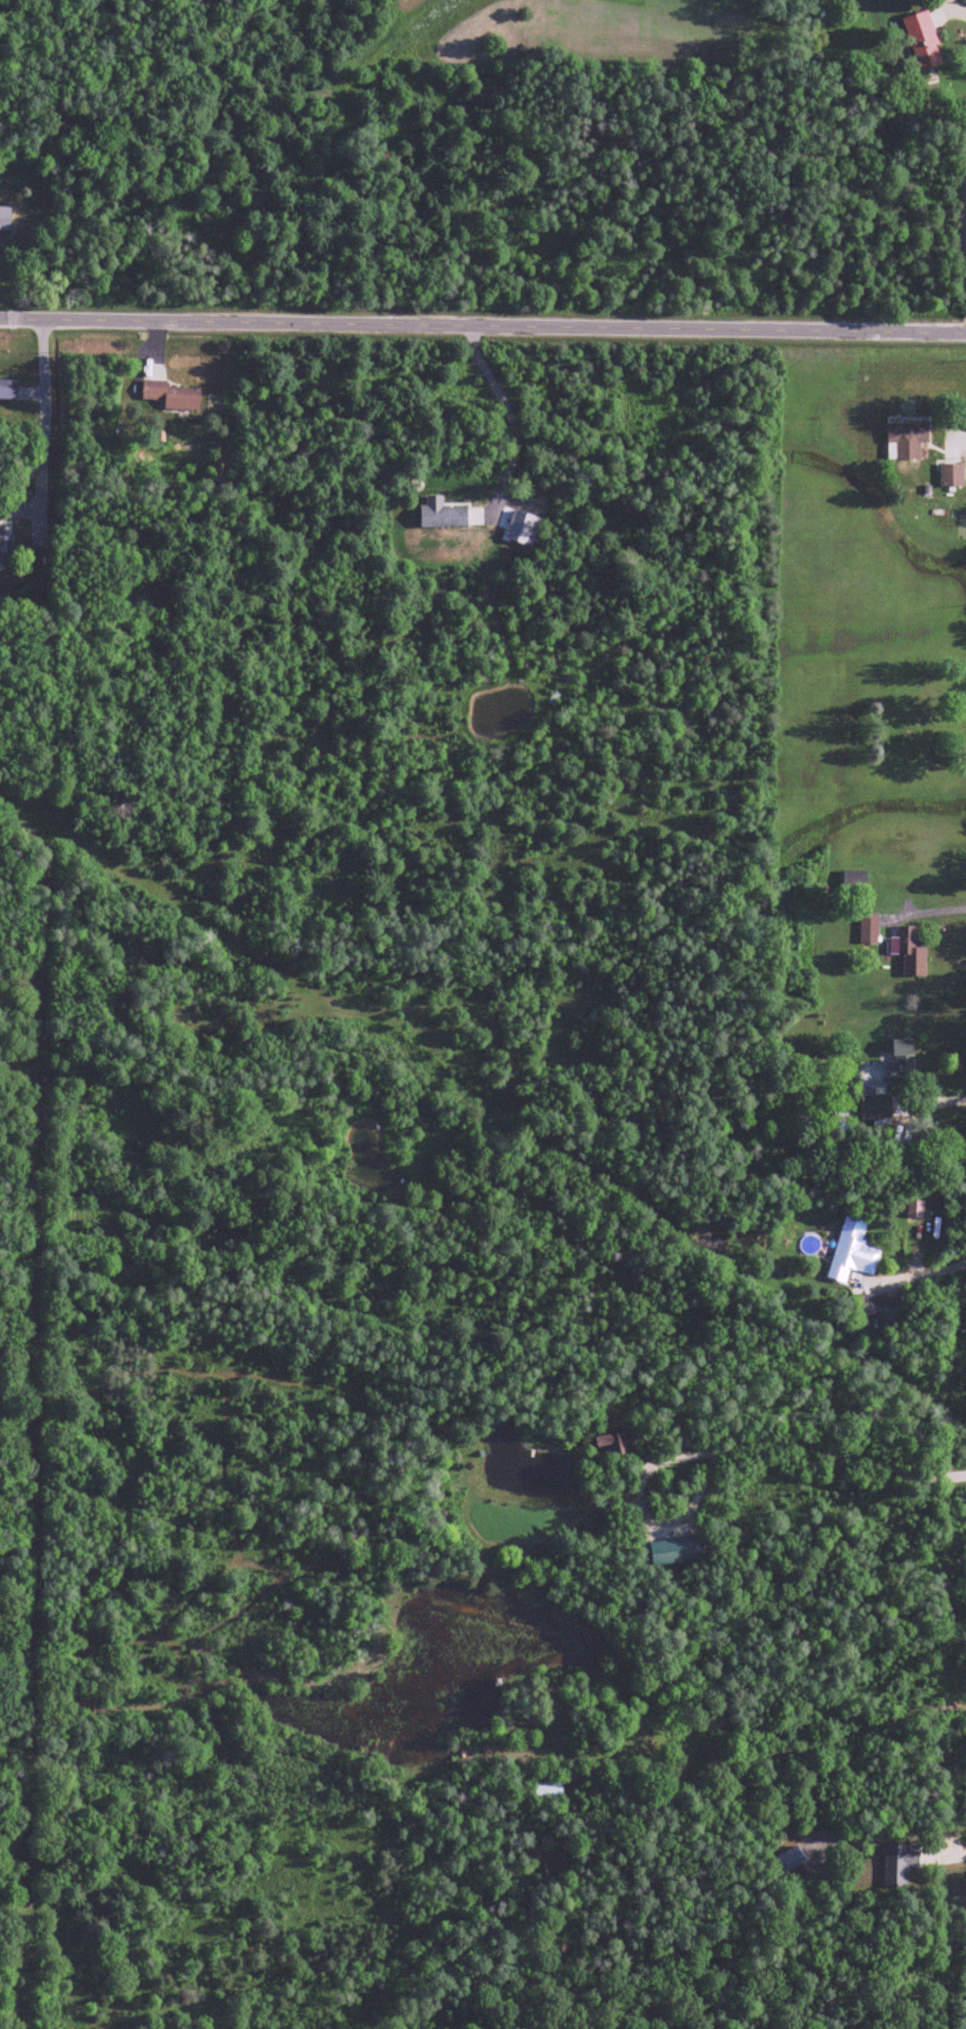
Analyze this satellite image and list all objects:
building: (924, 42)
building: (6, 219)
road: (482, 328)
building: (8, 391)
building: (173, 396)
road: (509, 415)
road: (45, 423)
building: (907, 442)
building: (445, 518)
building: (6, 549)
building: (855, 880)
building: (869, 930)
building: (904, 1059)
building: (853, 1253)
road: (923, 1276)
building: (879, 1309)
building: (682, 1440)
building: (616, 1446)
road: (826, 1451)
building: (672, 1552)
building: (702, 1716)
building: (550, 1792)
building: (900, 1865)

